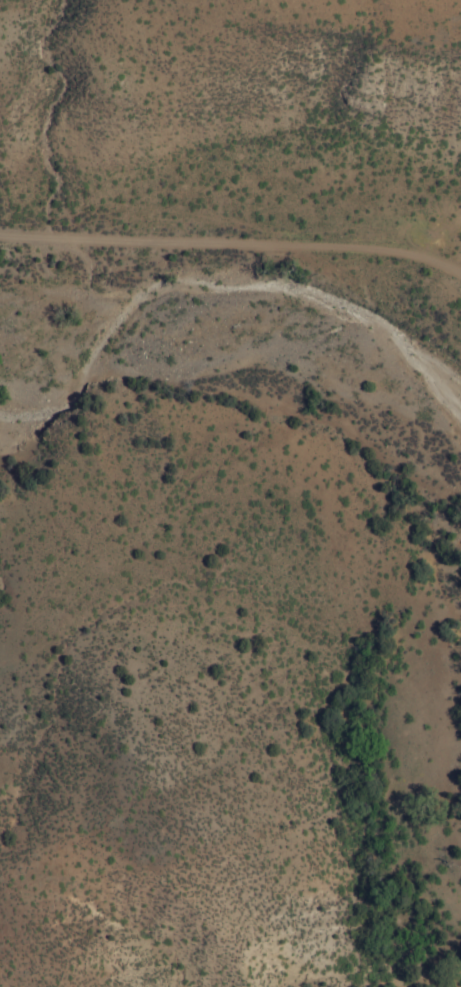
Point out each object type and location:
road: (232, 232)

